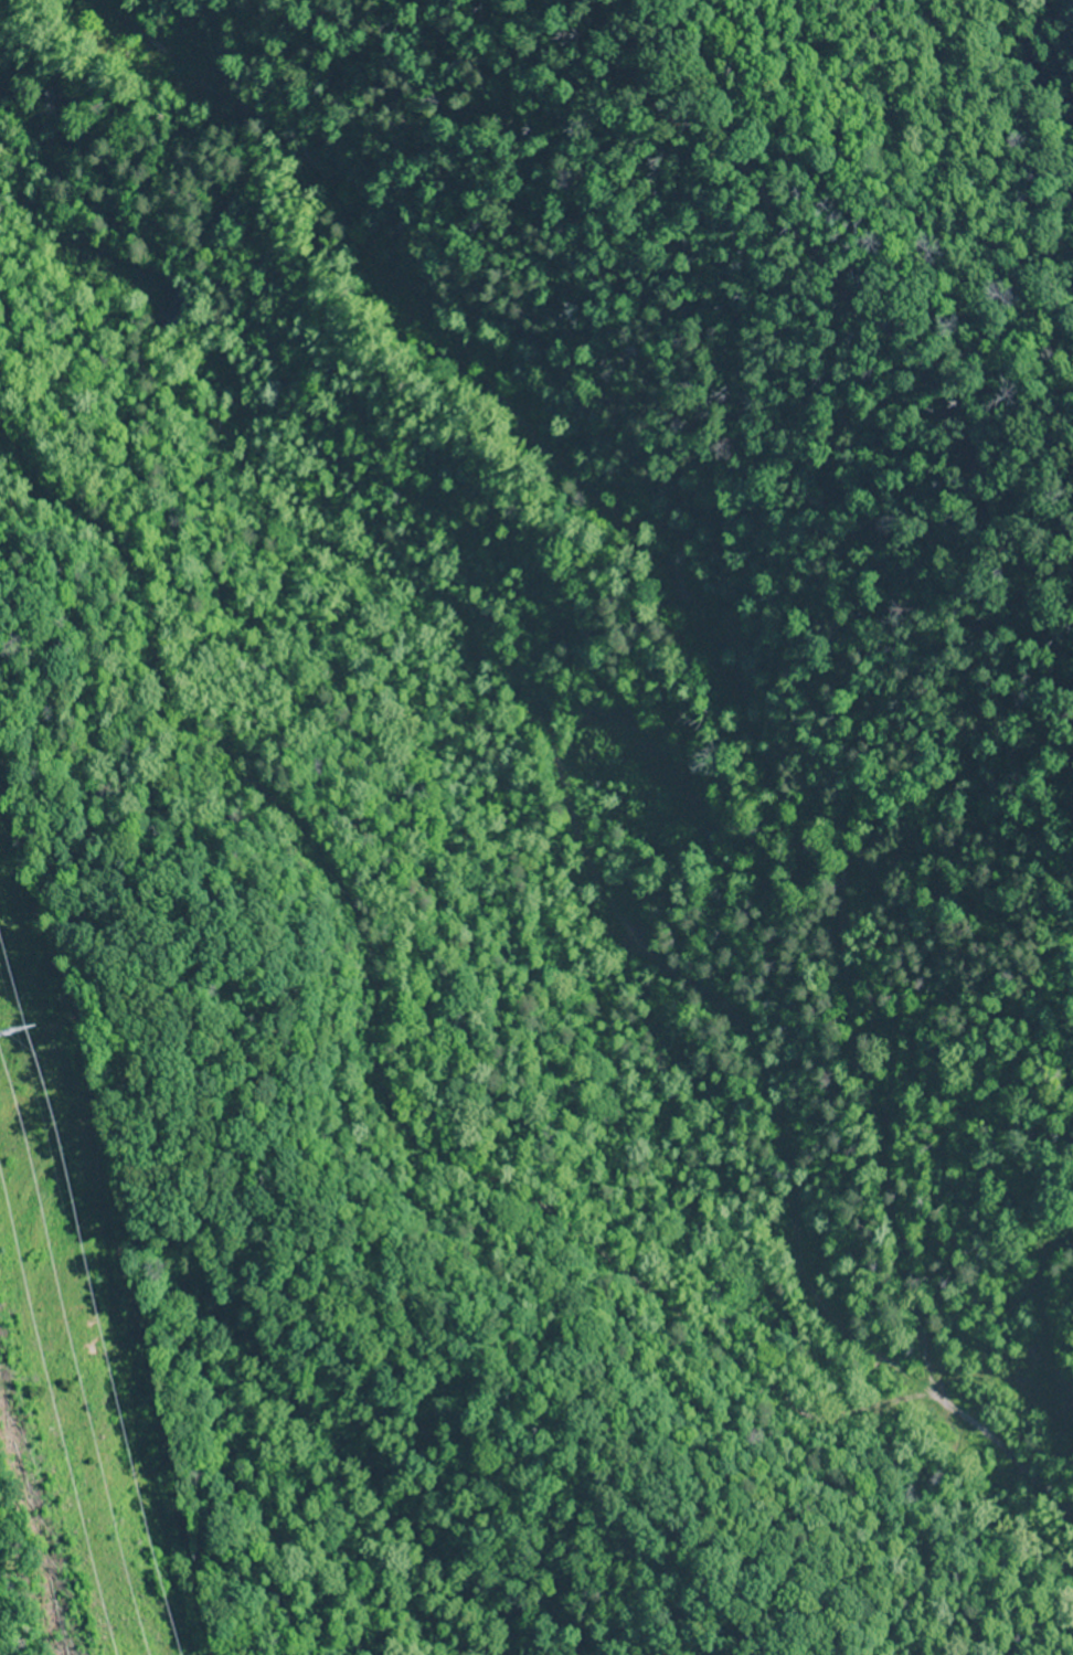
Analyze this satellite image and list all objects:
road: (508, 803)
power tower: (7, 1080)

